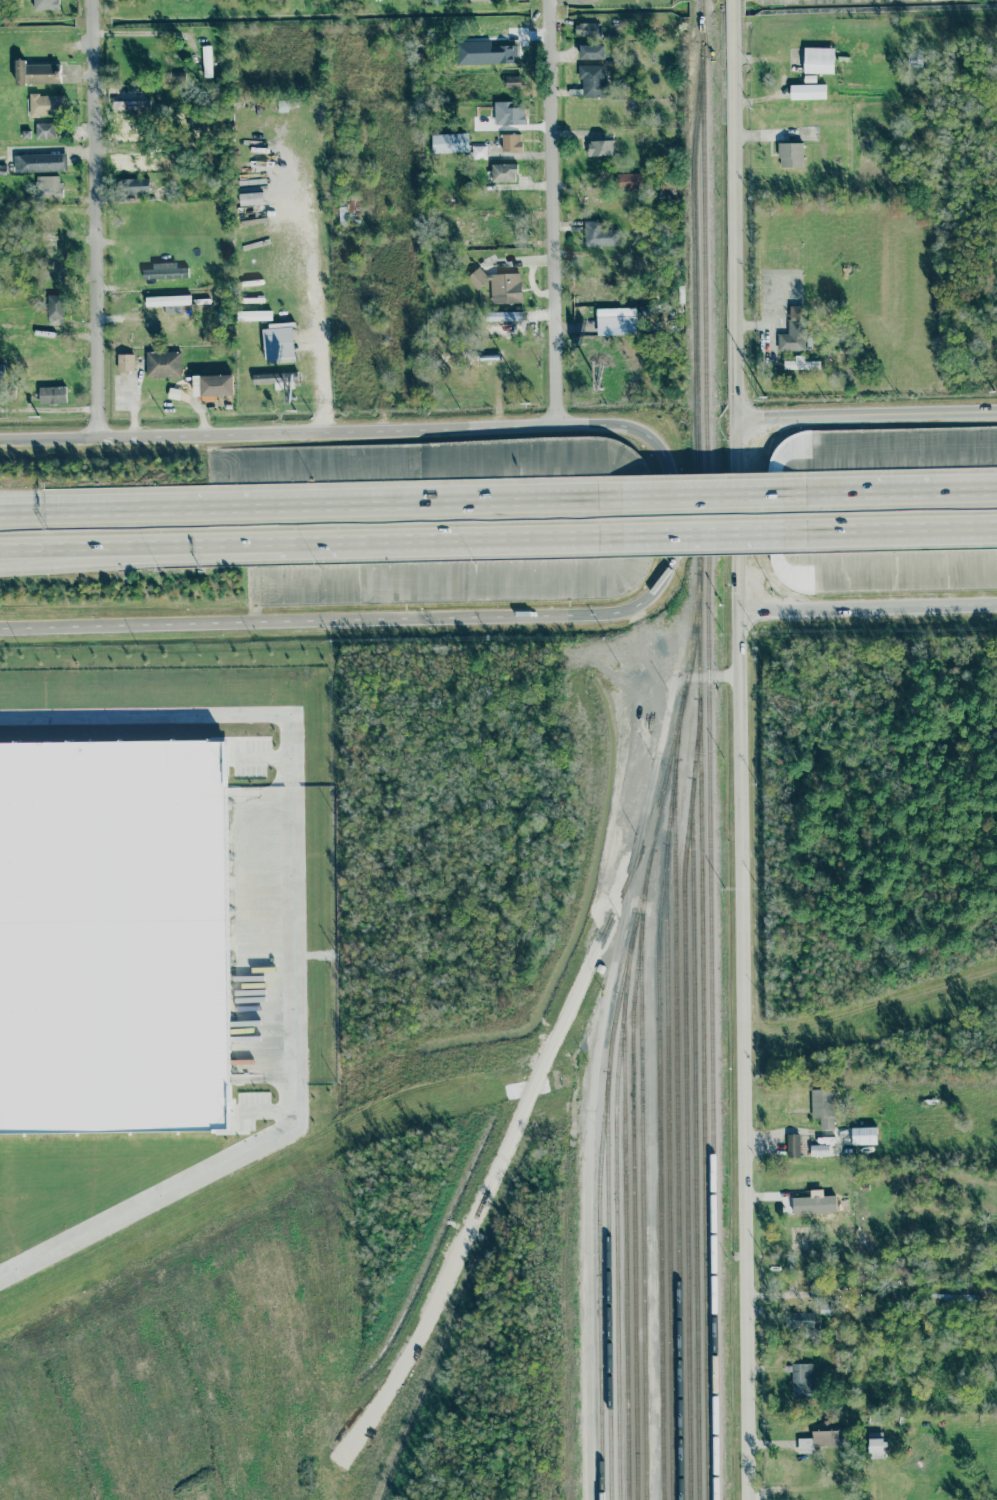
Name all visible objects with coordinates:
building: (123, 0)
building: (483, 0)
building: (586, 29)
building: (591, 52)
building: (484, 53)
building: (818, 60)
building: (206, 61)
building: (36, 73)
building: (591, 81)
building: (512, 82)
building: (807, 91)
building: (46, 104)
building: (125, 104)
building: (508, 114)
building: (45, 131)
building: (510, 142)
building: (450, 143)
building: (600, 147)
building: (478, 152)
building: (790, 155)
building: (40, 162)
building: (503, 172)
road: (550, 175)
building: (627, 181)
building: (48, 186)
building: (133, 186)
road: (94, 218)
building: (598, 235)
building: (165, 271)
building: (499, 286)
road: (316, 288)
building: (167, 300)
building: (54, 306)
building: (615, 321)
building: (793, 331)
building: (278, 342)
building: (125, 362)
building: (163, 364)
building: (800, 364)
building: (1, 371)
building: (272, 380)
building: (212, 385)
road: (554, 387)
building: (52, 395)
road: (864, 417)
road: (348, 430)
road: (48, 438)
road: (961, 496)
road: (901, 497)
road: (829, 498)
road: (694, 502)
road: (62, 505)
road: (508, 506)
road: (666, 507)
road: (266, 509)
road: (62, 512)
road: (890, 531)
road: (766, 533)
road: (721, 534)
road: (654, 535)
road: (474, 538)
road: (308, 540)
road: (140, 542)
road: (73, 549)
road: (865, 610)
road: (310, 620)
railway: (709, 749)
road: (733, 750)
railway: (667, 771)
building: (112, 935)
road: (294, 942)
railway: (703, 1041)
road: (596, 1056)
railway: (686, 1106)
building: (823, 1107)
railway: (677, 1110)
railway: (667, 1136)
building: (864, 1136)
railway: (659, 1142)
building: (793, 1145)
railway: (695, 1146)
building: (819, 1150)
railway: (642, 1191)
building: (814, 1205)
railway: (617, 1219)
railway: (634, 1221)
railway: (625, 1252)
road: (791, 1292)
railway: (609, 1294)
building: (800, 1322)
building: (802, 1381)
building: (821, 1437)
building: (876, 1446)

